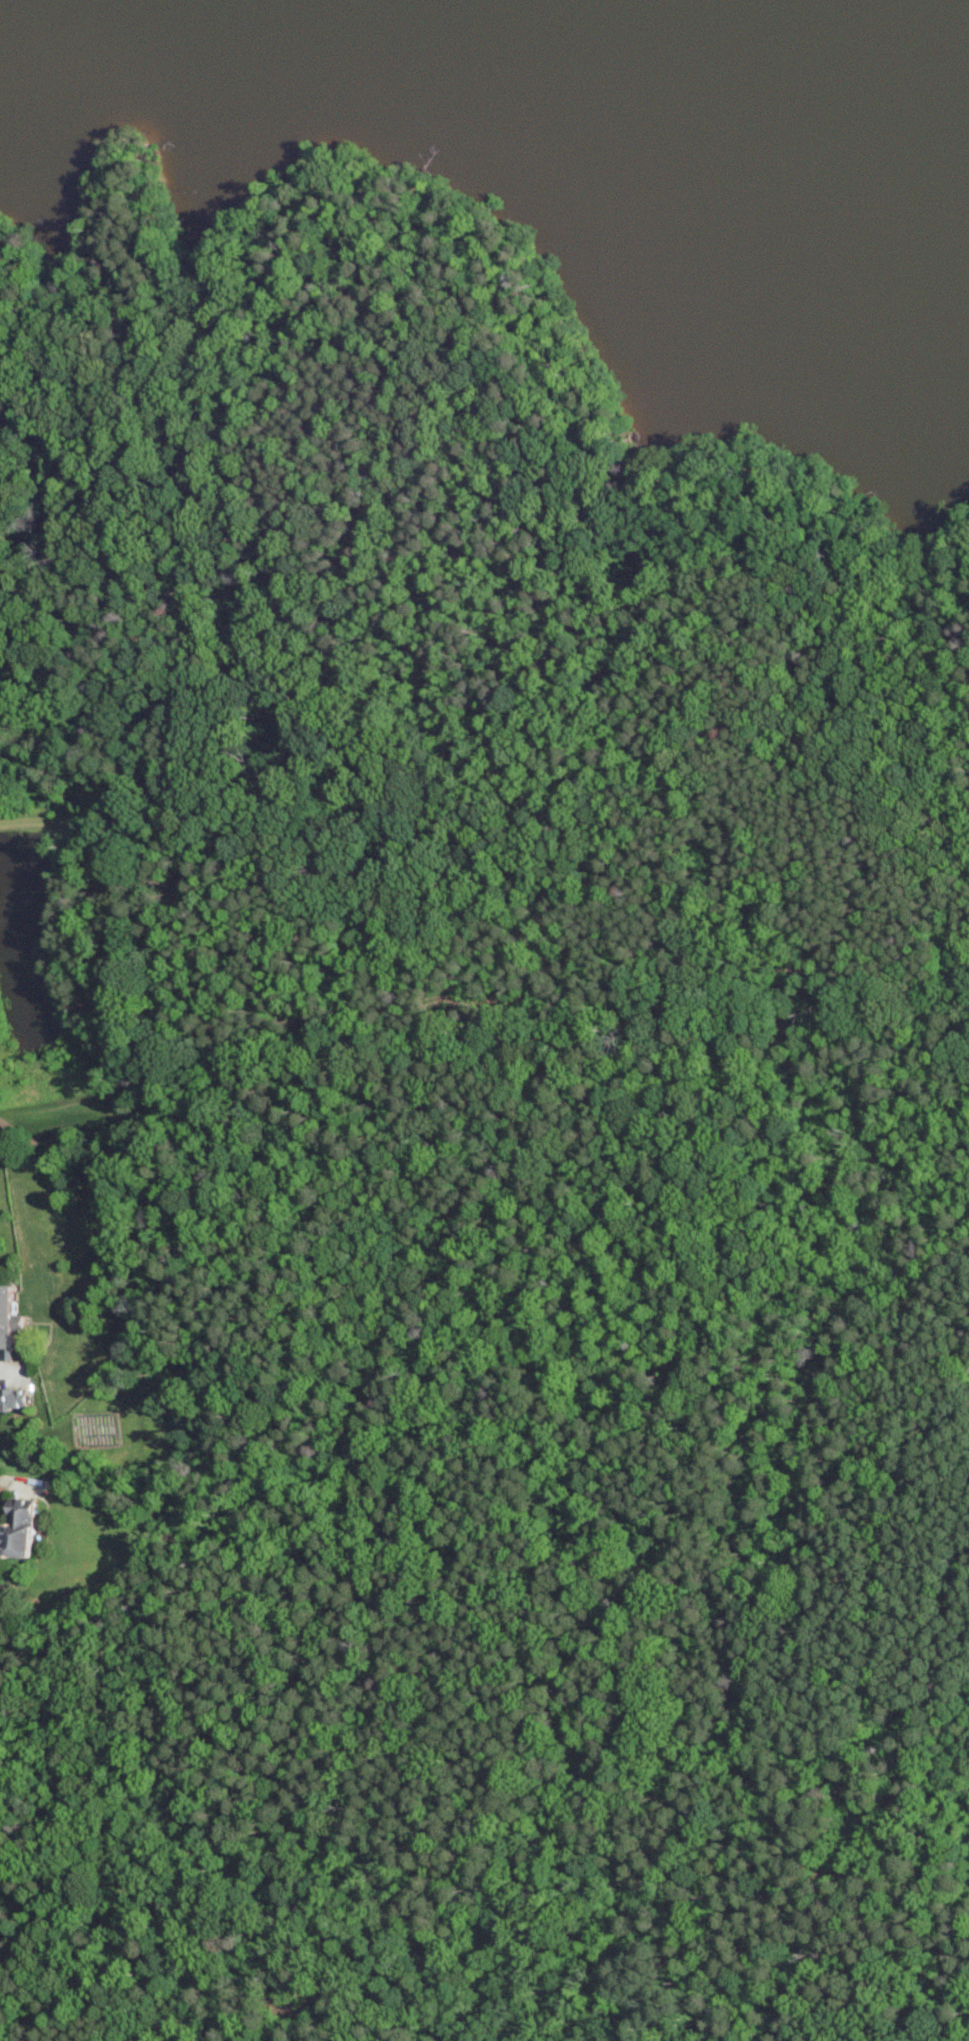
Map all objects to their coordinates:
road: (564, 490)
road: (316, 958)
building: (10, 1320)
building: (15, 1399)
road: (13, 1484)
building: (21, 1531)
road: (888, 1651)

